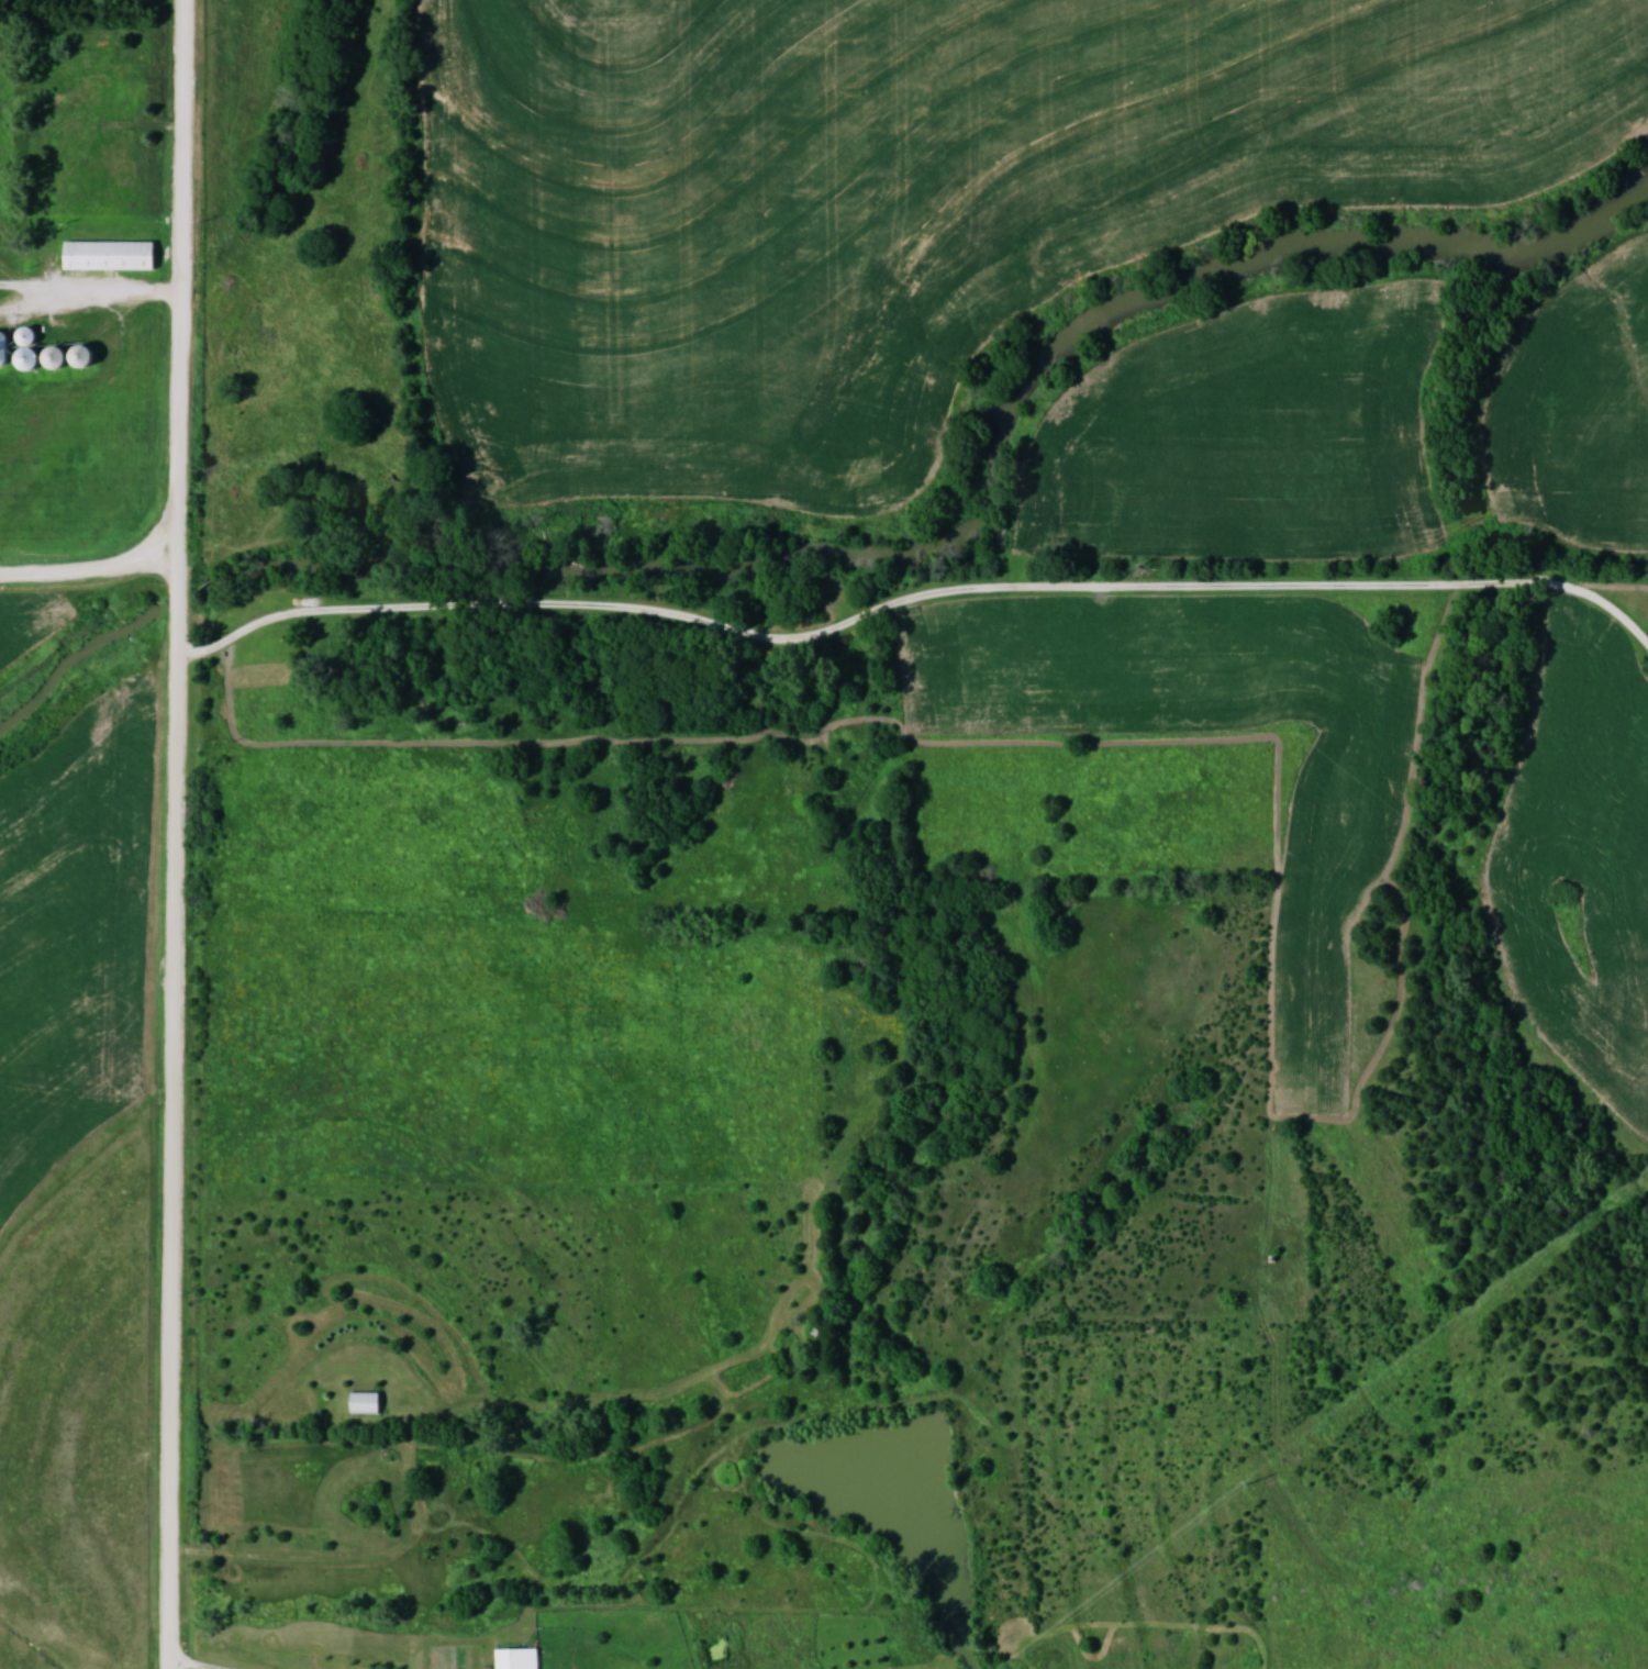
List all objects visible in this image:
building: (111, 255)
road: (102, 288)
building: (29, 336)
building: (4, 348)
building: (87, 357)
building: (33, 358)
building: (58, 358)
road: (90, 572)
road: (914, 597)
road: (180, 834)
building: (366, 1402)
building: (516, 1657)
road: (188, 1668)

